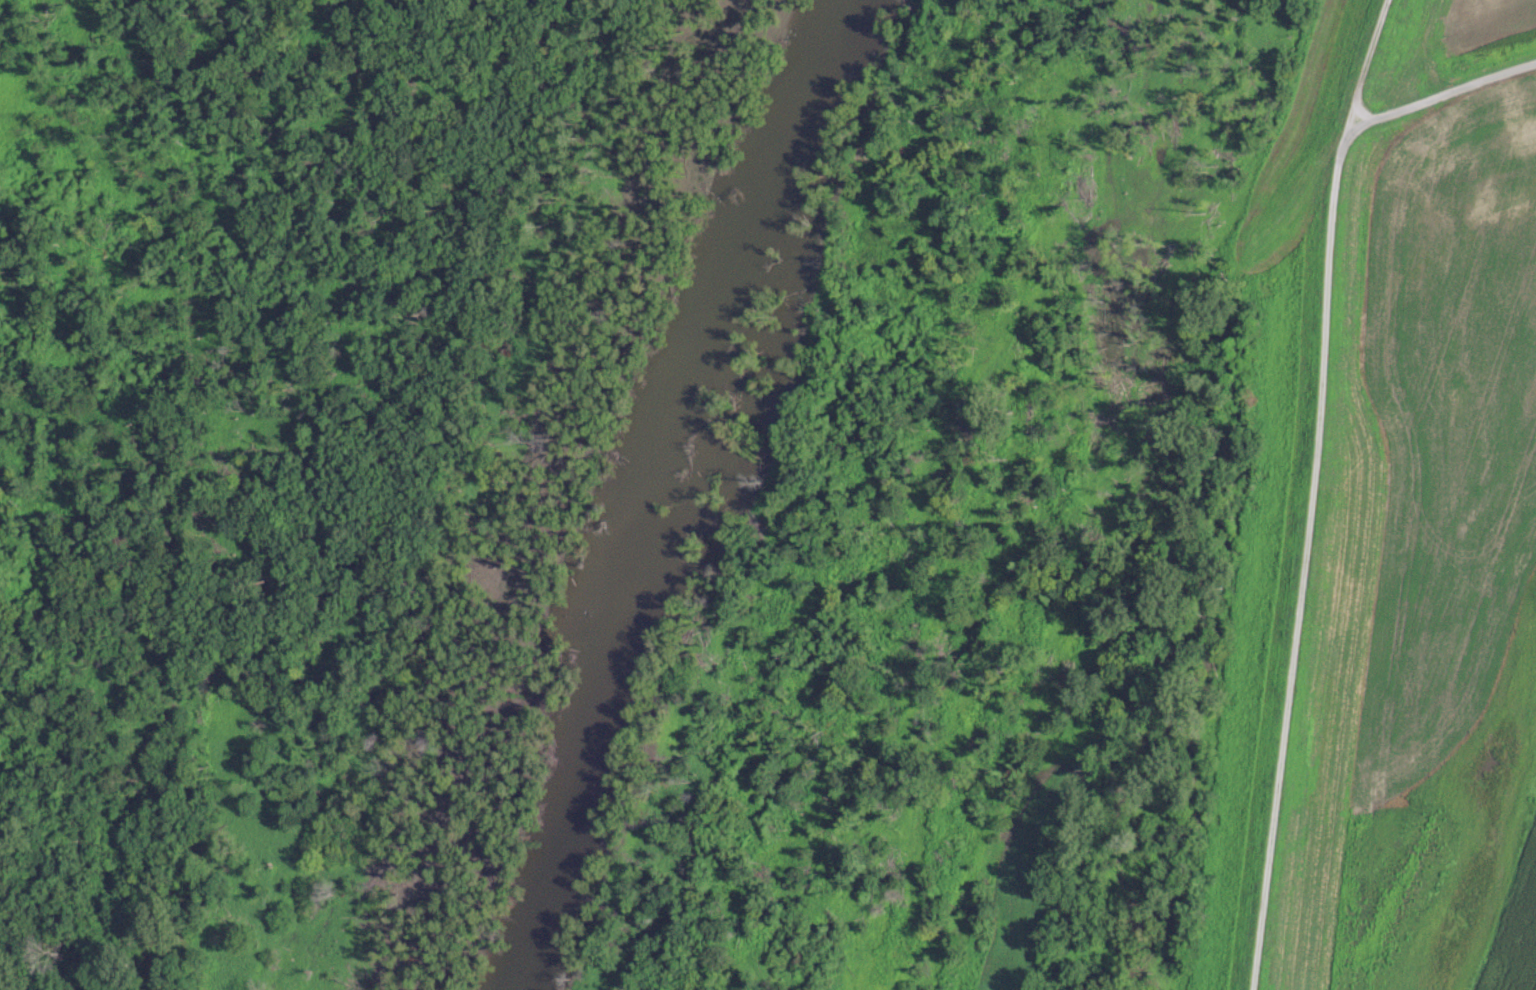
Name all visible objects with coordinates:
road: (1315, 460)

